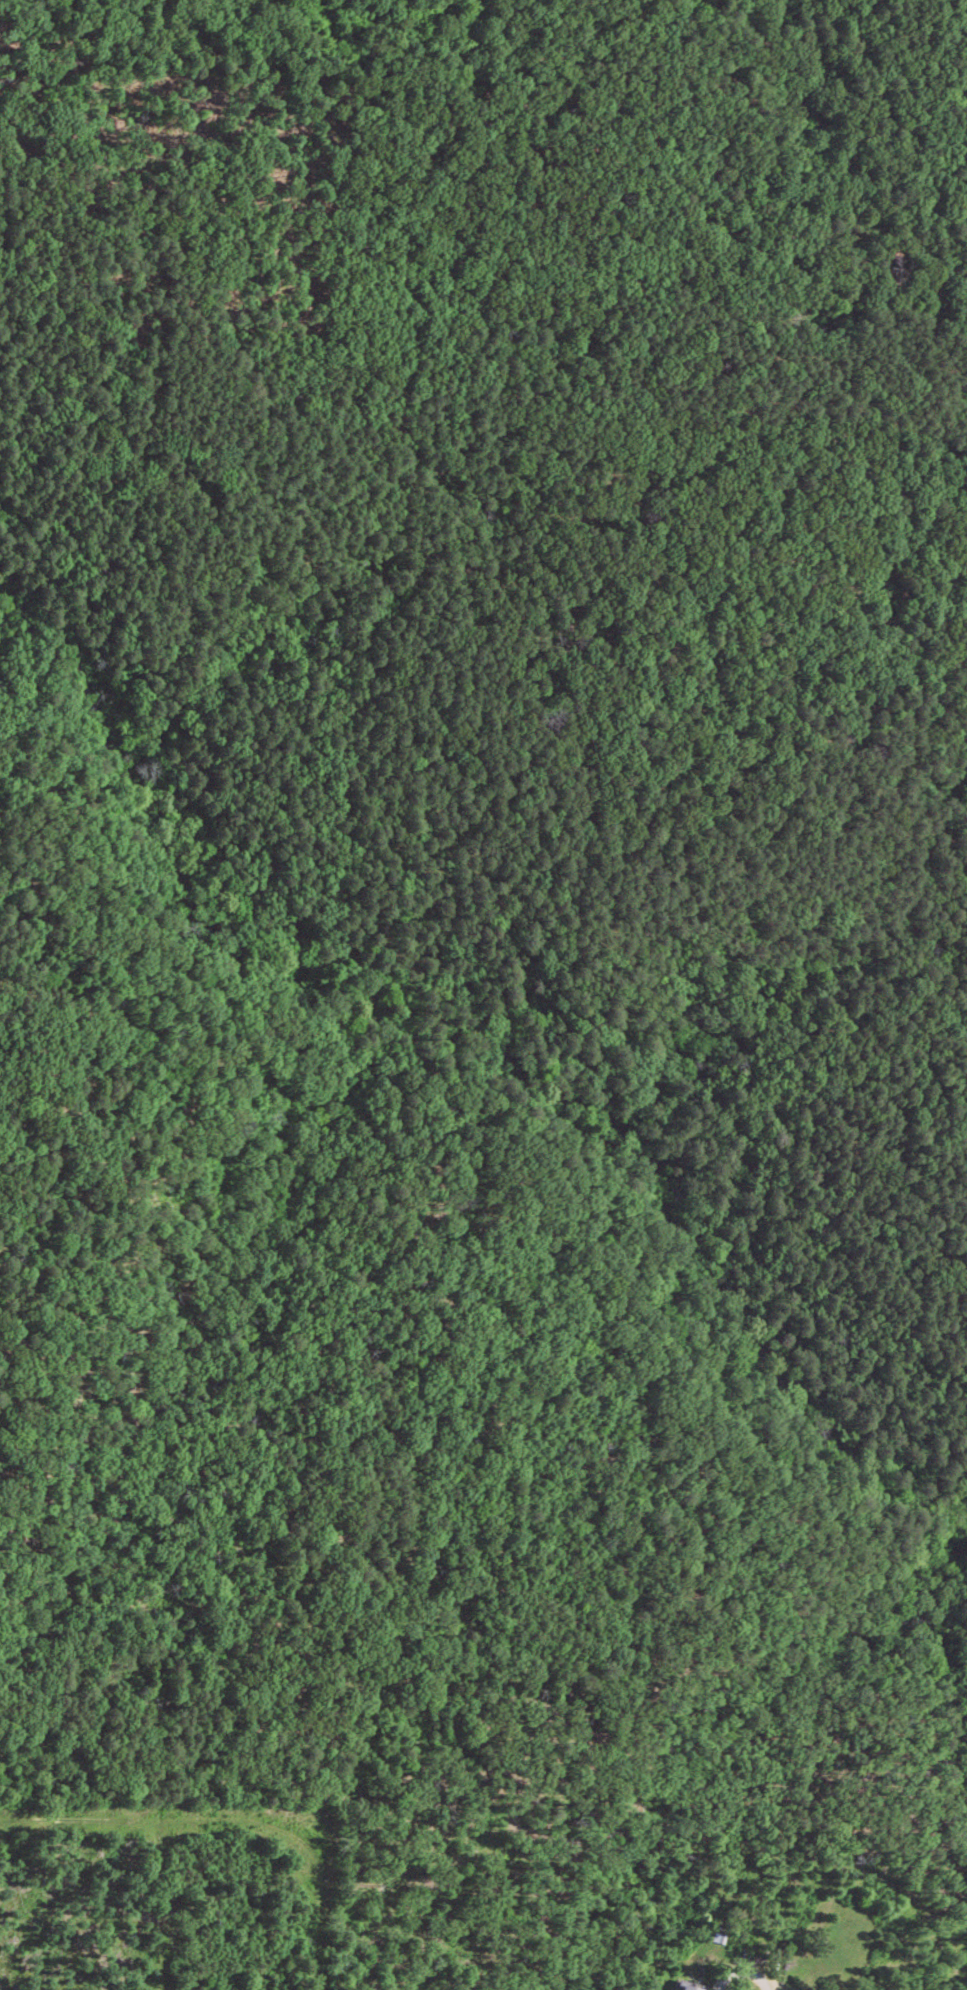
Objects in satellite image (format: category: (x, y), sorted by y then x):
building: (694, 1987)

